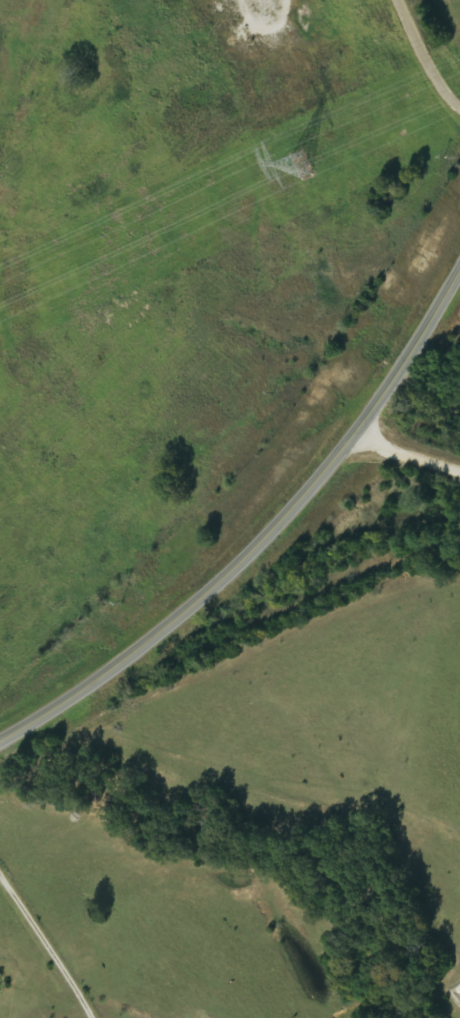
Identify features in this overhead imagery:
road: (452, 20)
power tower: (305, 165)
road: (185, 312)
road: (404, 460)
road: (262, 534)

